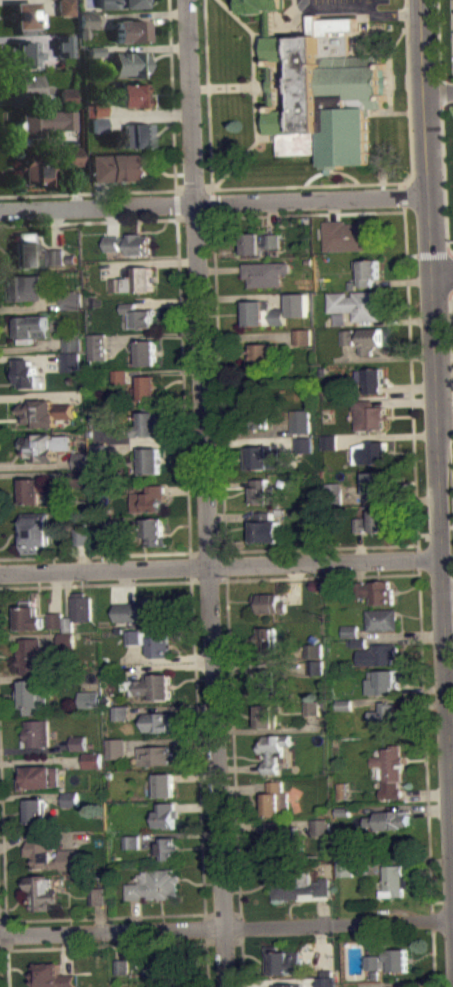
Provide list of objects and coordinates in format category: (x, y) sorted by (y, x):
building: (119, 3)
parking lot: (342, 3)
building: (64, 7)
road: (233, 8)
building: (265, 10)
road: (389, 15)
building: (24, 17)
building: (84, 22)
parking lot: (451, 29)
building: (130, 30)
building: (63, 43)
building: (92, 50)
building: (21, 54)
building: (93, 57)
building: (127, 63)
road: (389, 67)
road: (399, 80)
road: (231, 87)
building: (22, 88)
building: (131, 94)
road: (255, 94)
building: (66, 95)
building: (322, 95)
road: (422, 97)
road: (408, 103)
building: (95, 108)
road: (389, 113)
building: (41, 121)
building: (95, 124)
road: (442, 126)
road: (209, 134)
building: (134, 135)
building: (70, 156)
building: (33, 168)
building: (118, 168)
road: (331, 169)
road: (313, 177)
road: (382, 179)
road: (174, 182)
road: (185, 189)
road: (404, 196)
road: (212, 202)
road: (176, 211)
road: (308, 214)
road: (88, 221)
road: (426, 233)
building: (354, 234)
building: (259, 242)
building: (130, 243)
road: (427, 253)
building: (25, 254)
building: (57, 256)
building: (72, 258)
building: (367, 271)
road: (440, 271)
road: (449, 271)
building: (265, 273)
building: (135, 280)
building: (26, 286)
building: (71, 299)
building: (298, 304)
building: (358, 304)
building: (263, 313)
building: (139, 315)
building: (31, 328)
road: (451, 332)
building: (302, 337)
building: (362, 338)
building: (73, 341)
building: (348, 343)
building: (97, 346)
building: (147, 352)
building: (263, 355)
building: (71, 361)
road: (182, 367)
building: (28, 374)
building: (120, 376)
building: (370, 379)
road: (411, 380)
building: (121, 383)
building: (148, 387)
building: (259, 405)
road: (220, 410)
building: (46, 412)
building: (368, 414)
building: (103, 418)
road: (443, 423)
building: (149, 424)
building: (303, 426)
building: (329, 442)
building: (303, 444)
building: (46, 446)
building: (100, 450)
building: (371, 453)
building: (263, 457)
building: (100, 458)
building: (82, 460)
building: (152, 461)
road: (451, 468)
building: (79, 477)
building: (377, 482)
building: (333, 488)
building: (34, 491)
building: (262, 491)
road: (205, 493)
building: (150, 499)
building: (372, 522)
building: (110, 526)
building: (266, 529)
building: (37, 531)
building: (156, 532)
building: (112, 534)
building: (83, 535)
building: (85, 545)
road: (313, 547)
road: (95, 554)
road: (191, 558)
road: (226, 558)
road: (418, 558)
road: (219, 566)
road: (439, 571)
road: (316, 577)
road: (96, 584)
building: (316, 585)
building: (375, 591)
road: (447, 593)
building: (270, 603)
building: (83, 606)
building: (141, 610)
building: (30, 617)
building: (381, 619)
building: (56, 620)
building: (69, 623)
building: (349, 631)
building: (348, 638)
building: (67, 640)
building: (149, 641)
building: (267, 641)
building: (356, 643)
building: (314, 650)
building: (377, 654)
building: (32, 655)
building: (317, 657)
building: (316, 667)
building: (380, 681)
building: (275, 682)
building: (149, 686)
building: (34, 694)
building: (89, 699)
building: (343, 704)
building: (311, 707)
building: (343, 711)
building: (119, 713)
building: (266, 715)
building: (388, 716)
building: (158, 721)
building: (164, 729)
road: (197, 730)
building: (37, 732)
road: (425, 739)
building: (78, 742)
building: (115, 748)
building: (79, 749)
building: (273, 751)
building: (153, 755)
road: (235, 755)
road: (450, 755)
building: (91, 760)
building: (390, 770)
building: (39, 776)
building: (164, 784)
building: (342, 790)
building: (70, 798)
building: (276, 799)
building: (71, 806)
building: (342, 811)
building: (35, 812)
building: (167, 815)
building: (389, 819)
building: (320, 826)
building: (131, 841)
building: (284, 841)
road: (3, 844)
building: (167, 848)
building: (133, 849)
building: (51, 855)
building: (345, 867)
building: (395, 880)
building: (153, 884)
building: (299, 888)
building: (44, 892)
building: (98, 896)
road: (91, 917)
road: (205, 920)
road: (433, 920)
road: (3, 921)
road: (226, 926)
road: (107, 946)
road: (207, 947)
road: (243, 949)
road: (434, 958)
building: (283, 960)
building: (390, 961)
road: (7, 964)
building: (121, 966)
building: (162, 968)
building: (121, 974)
building: (52, 976)
building: (170, 984)
building: (288, 985)

